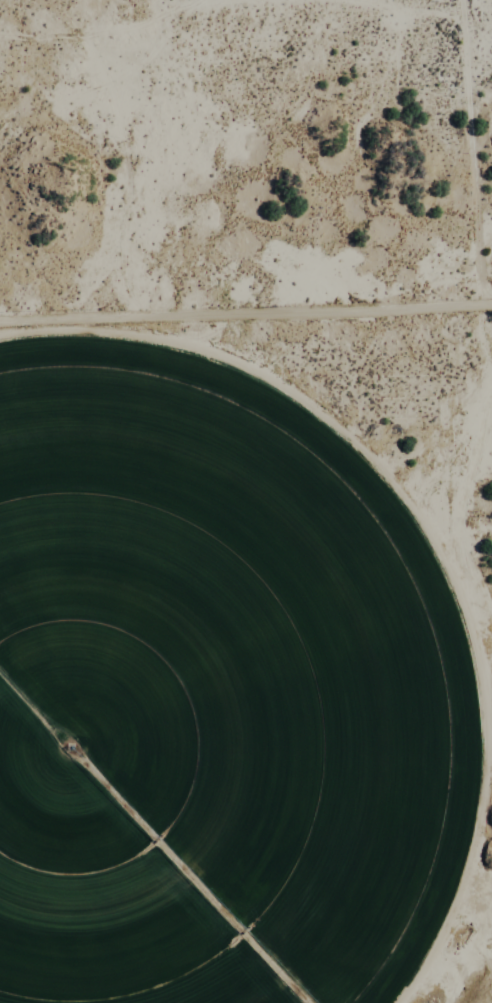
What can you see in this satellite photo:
road: (246, 320)
crop: (202, 705)

